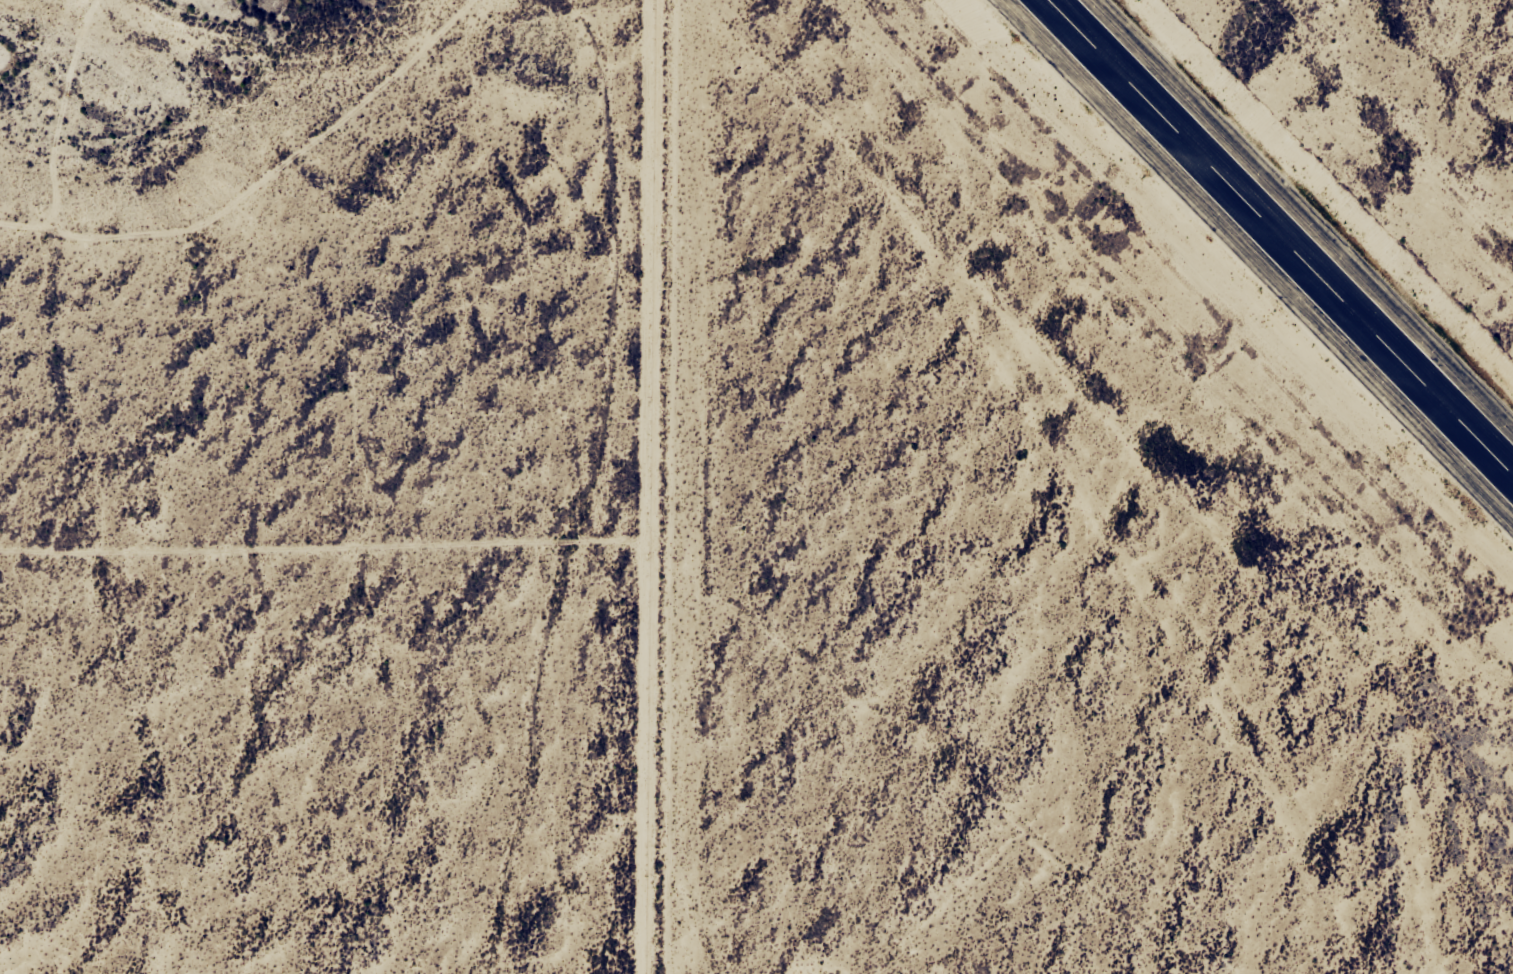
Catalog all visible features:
airport runway: (1280, 238)
road: (644, 487)

